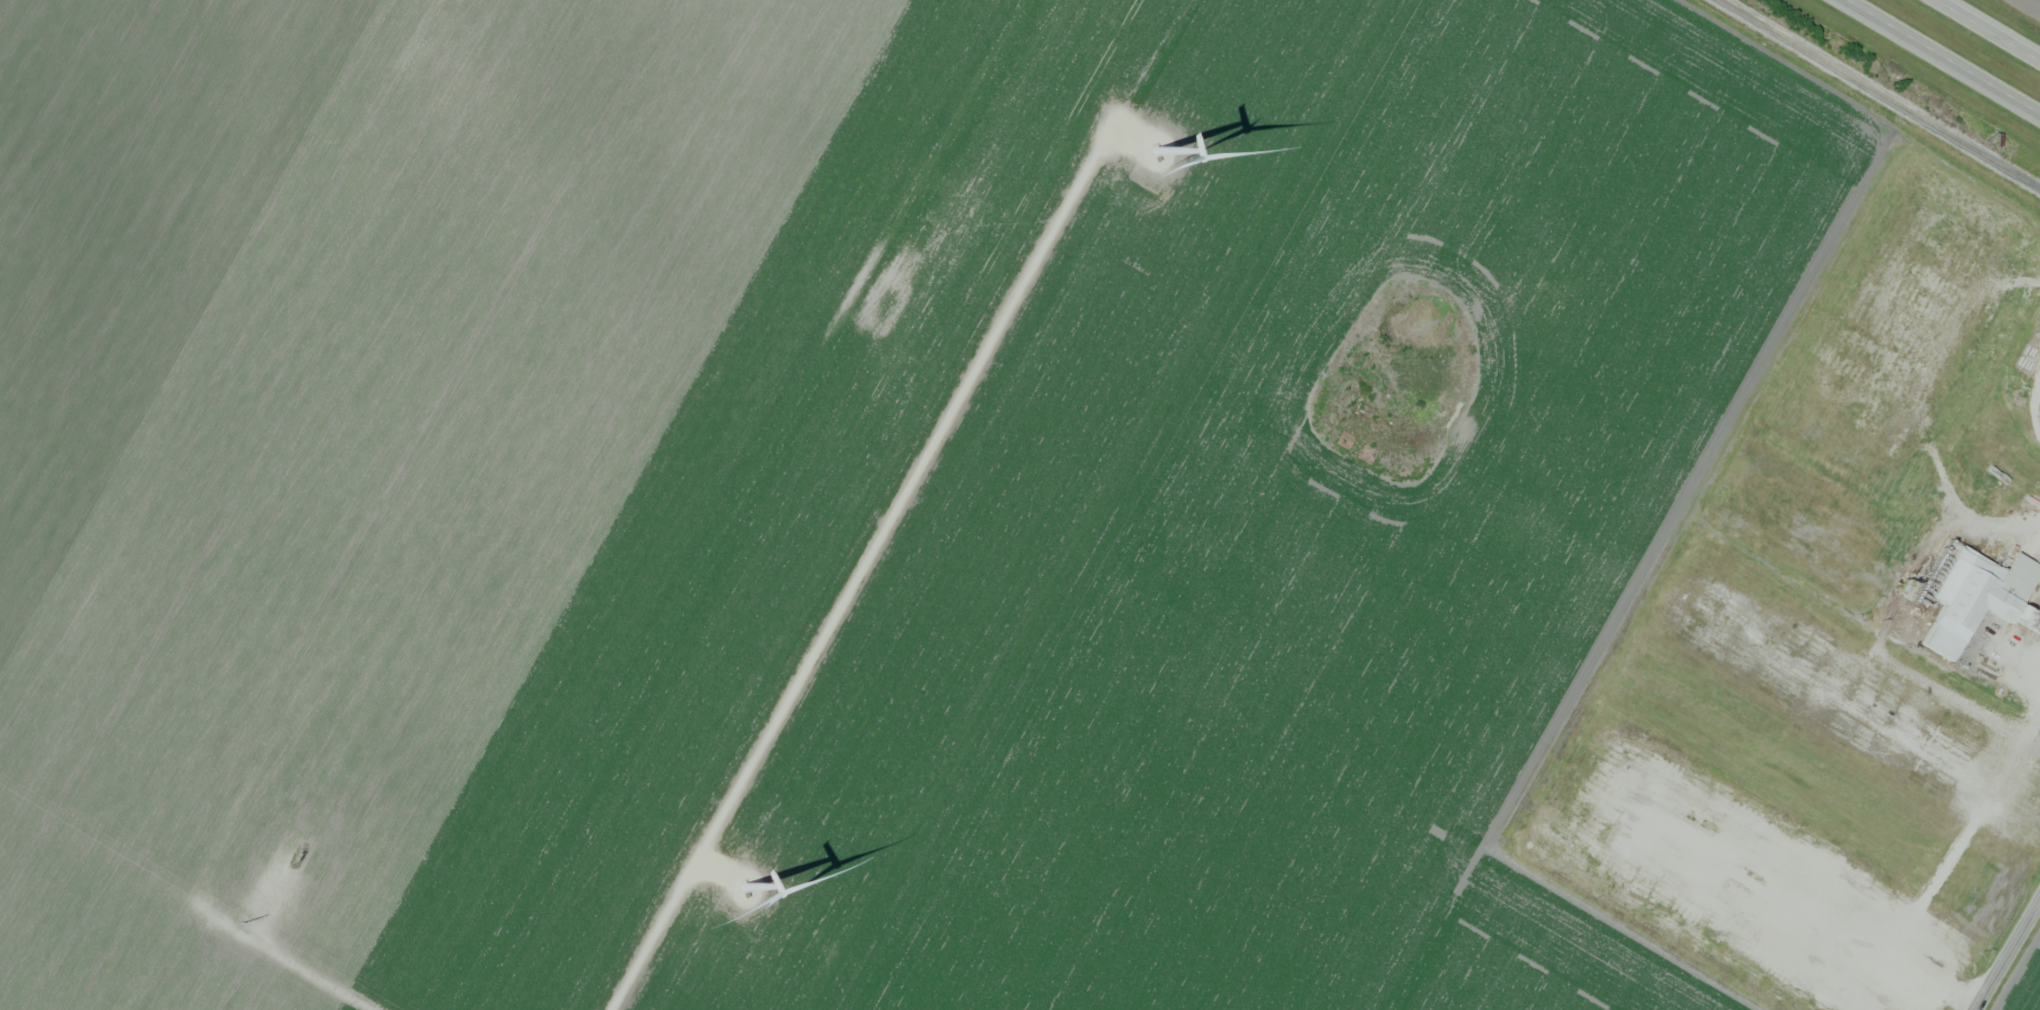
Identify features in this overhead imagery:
road: (1991, 28)
road: (1940, 59)
railway: (1879, 94)
wind turbine: (1179, 143)
building: (2033, 499)
road: (857, 570)
building: (1979, 606)
wind turbine: (763, 879)
power tower: (241, 920)
road: (2007, 954)

